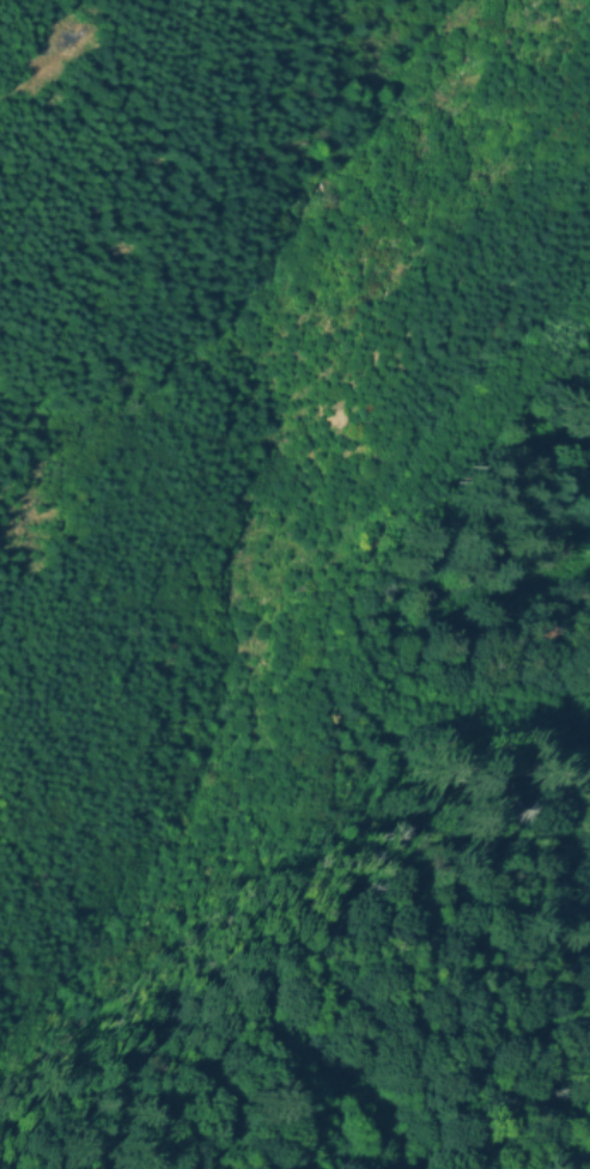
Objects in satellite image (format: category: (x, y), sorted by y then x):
road: (26, 73)

